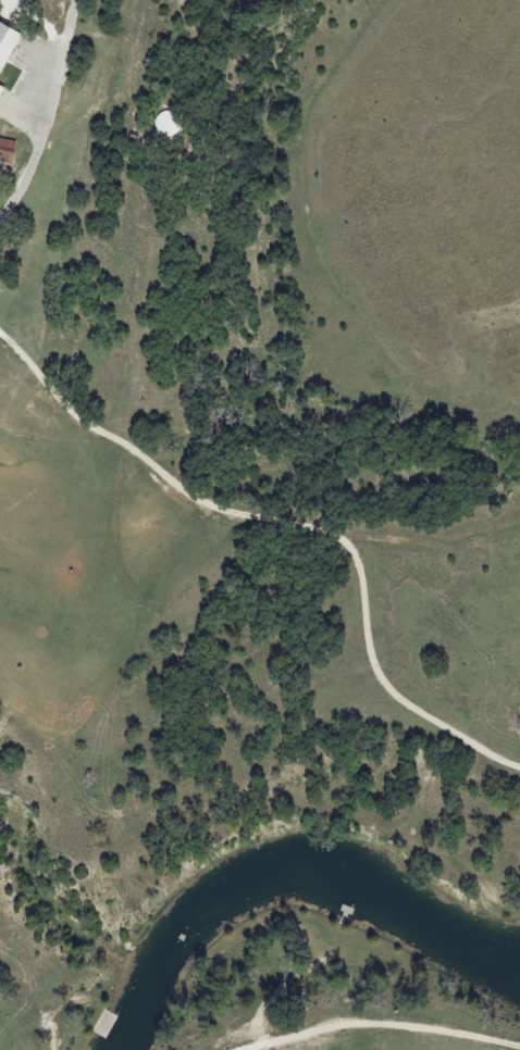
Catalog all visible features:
road: (48, 114)

